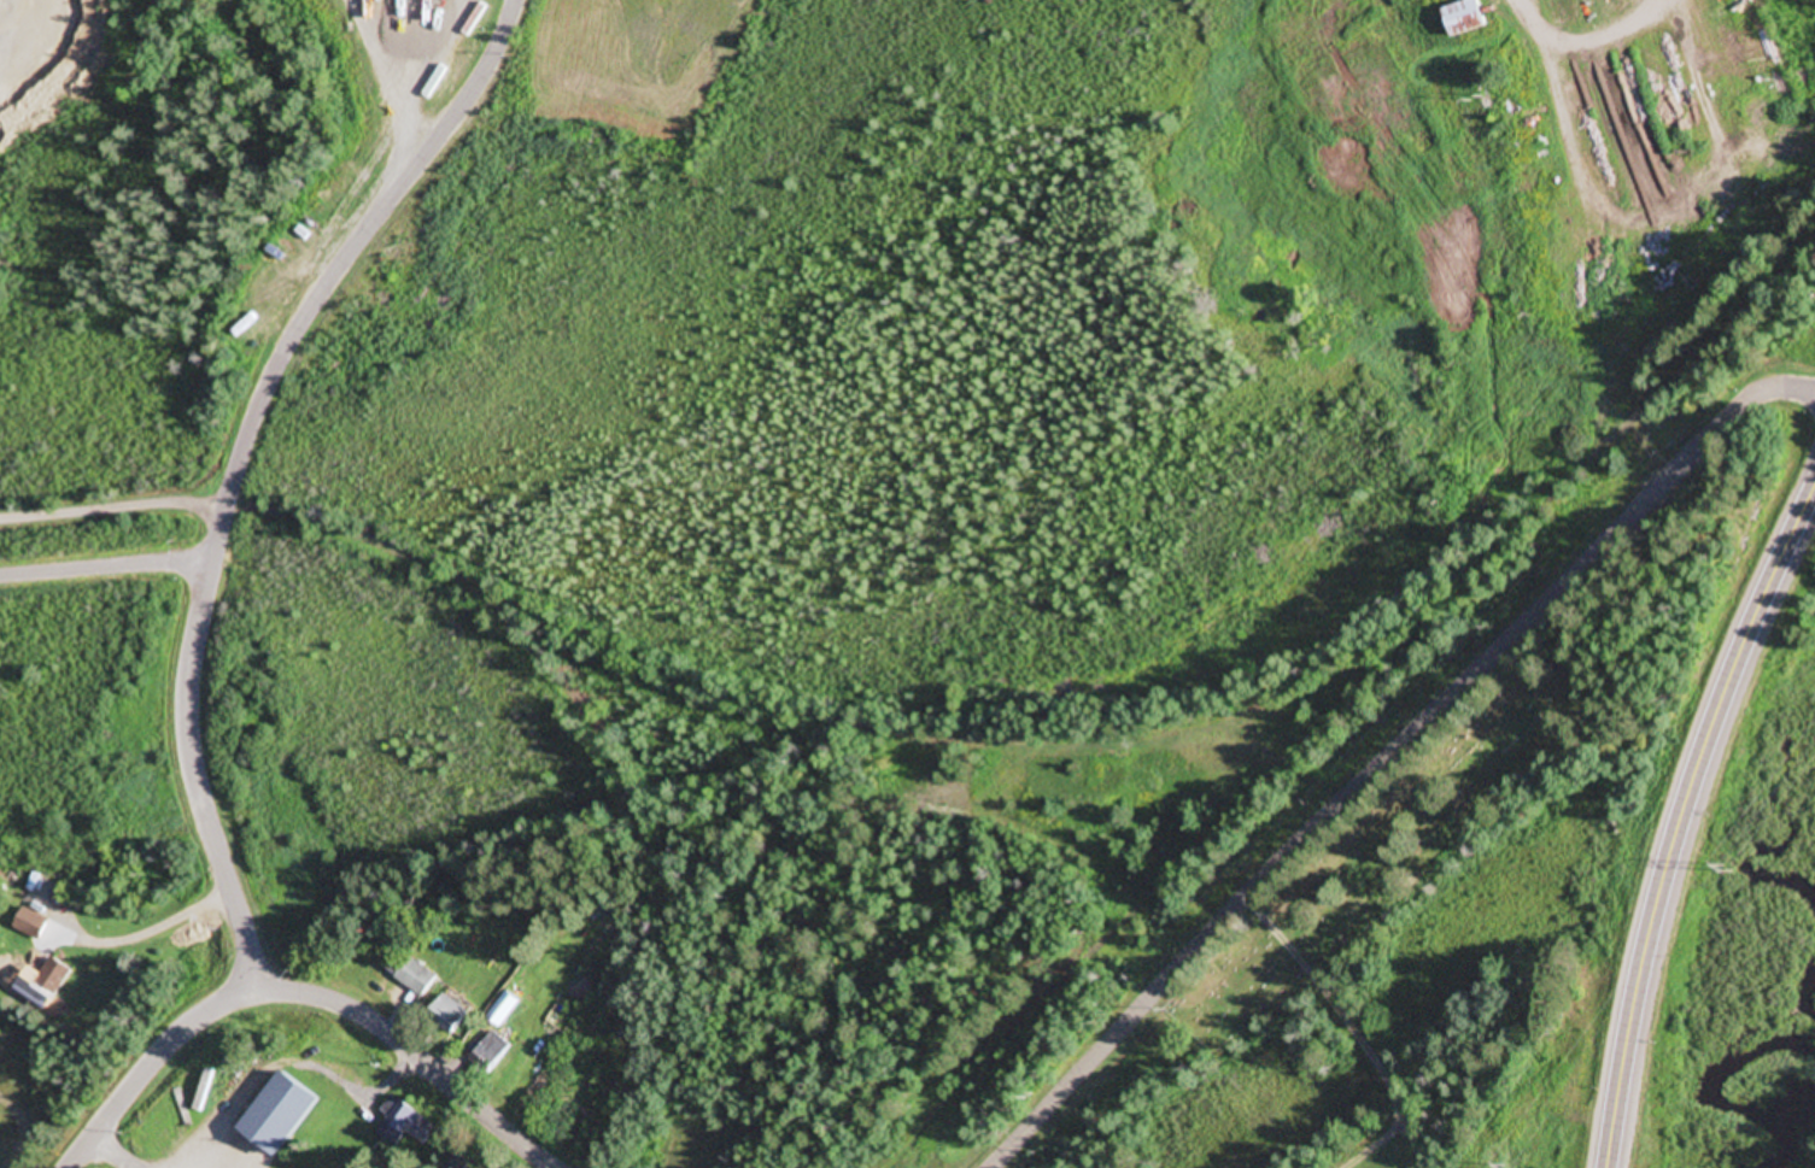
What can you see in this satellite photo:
building: (1469, 18)
road: (240, 459)
road: (112, 509)
road: (106, 567)
road: (1392, 763)
road: (1685, 822)
power tower: (1725, 870)
park: (1466, 890)
building: (33, 926)
building: (417, 979)
building: (54, 980)
building: (504, 1009)
building: (455, 1015)
road: (377, 1026)
building: (491, 1055)
road: (151, 1062)
building: (283, 1116)
building: (408, 1125)
road: (514, 1140)
road: (112, 1152)
building: (464, 1161)

